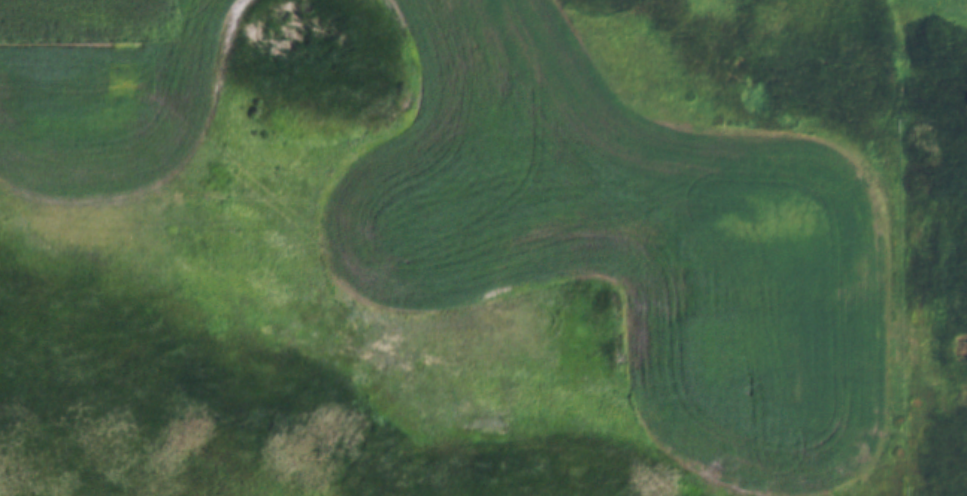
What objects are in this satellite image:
road: (881, 242)

